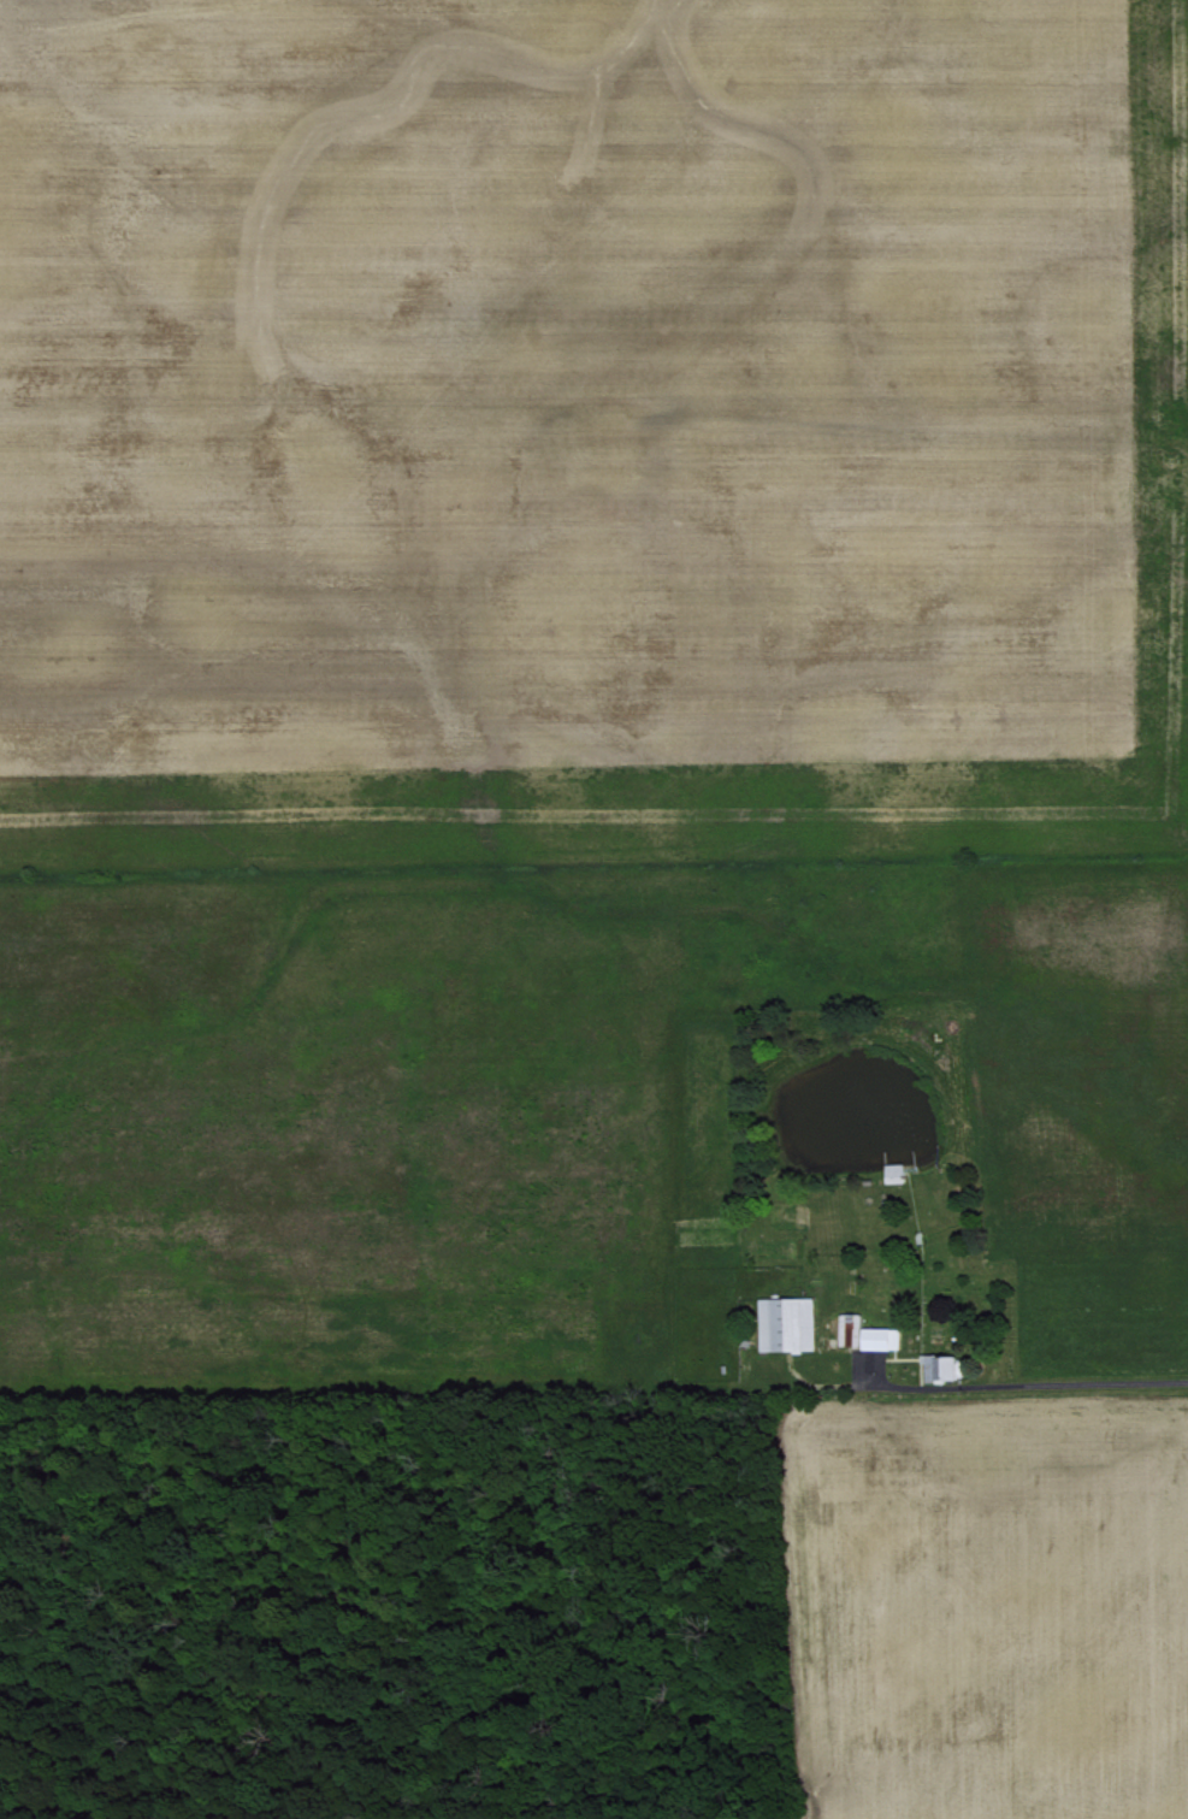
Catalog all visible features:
building: (785, 1323)
building: (847, 1328)
building: (879, 1336)
road: (1029, 1389)

